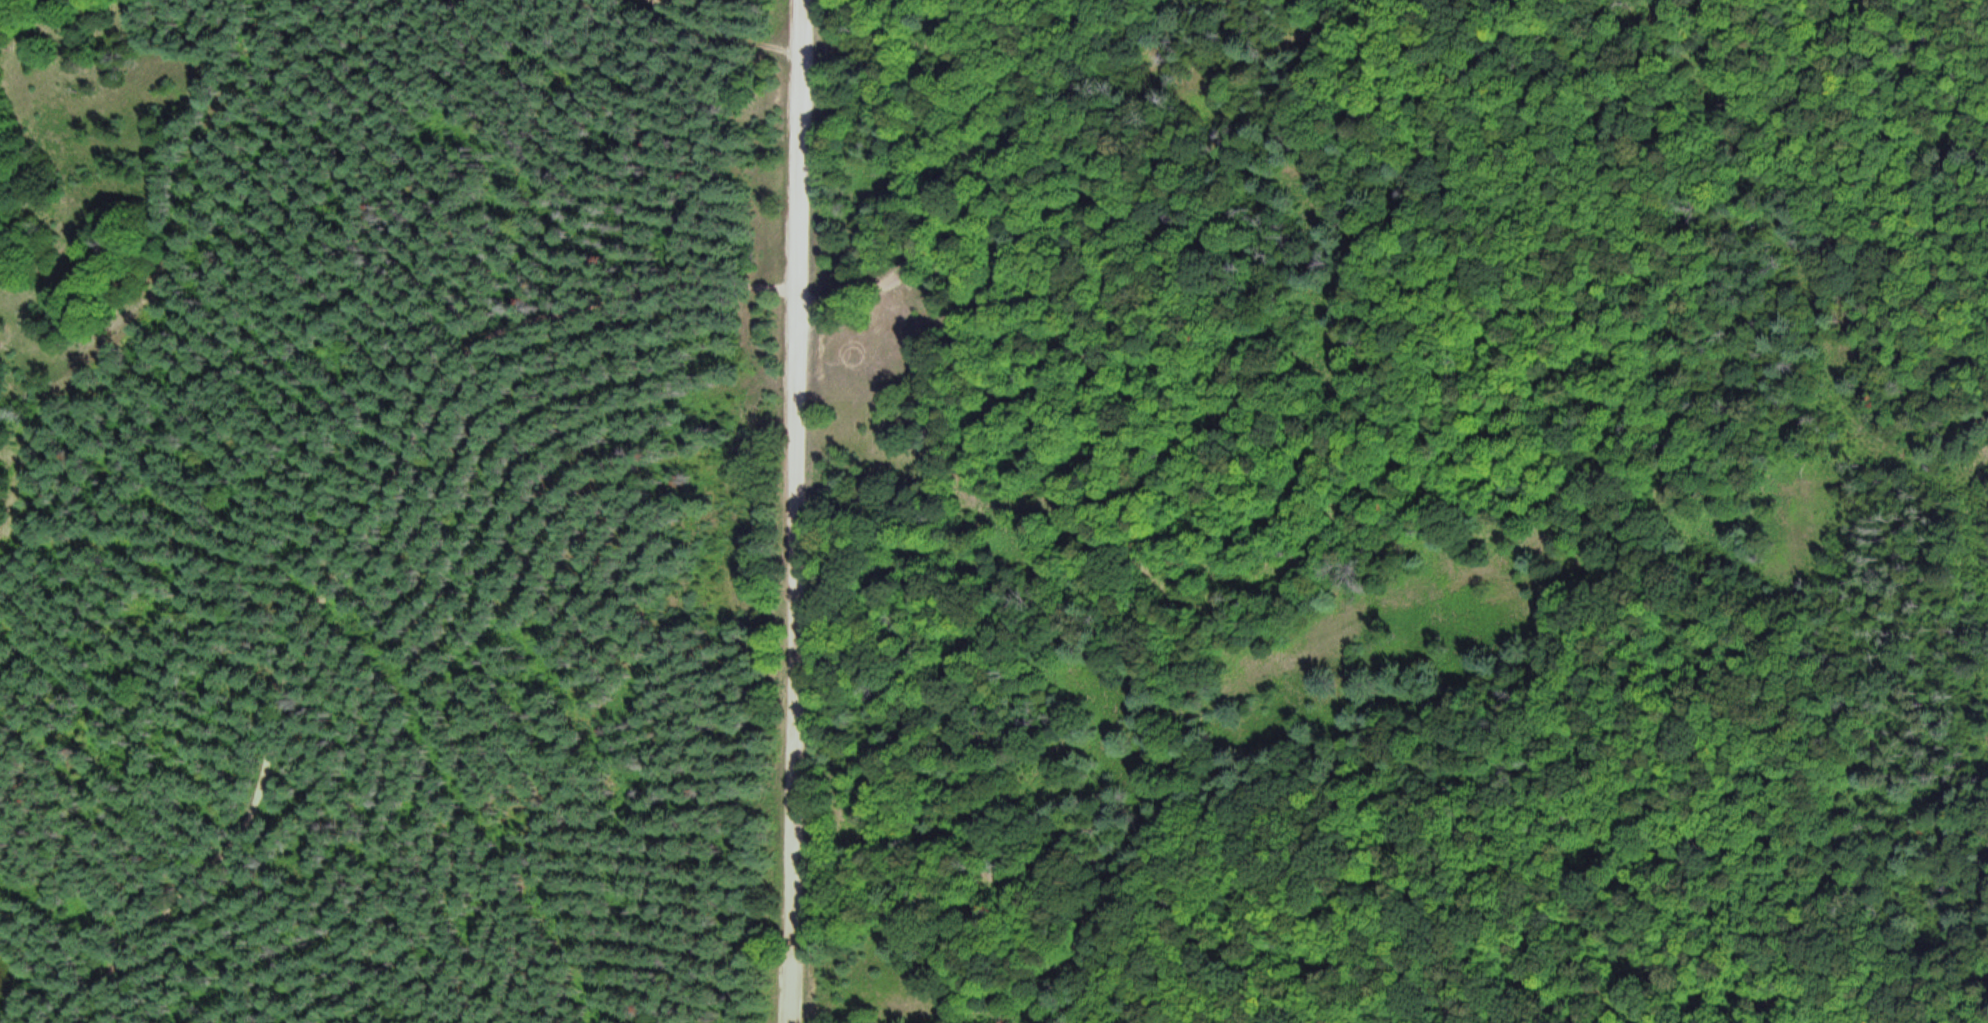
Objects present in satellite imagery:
road: (709, 40)
road: (949, 183)
road: (793, 511)
road: (348, 535)
road: (1316, 587)
road: (1881, 619)
road: (1746, 894)
road: (1417, 899)
road: (1142, 905)
road: (1119, 1022)

